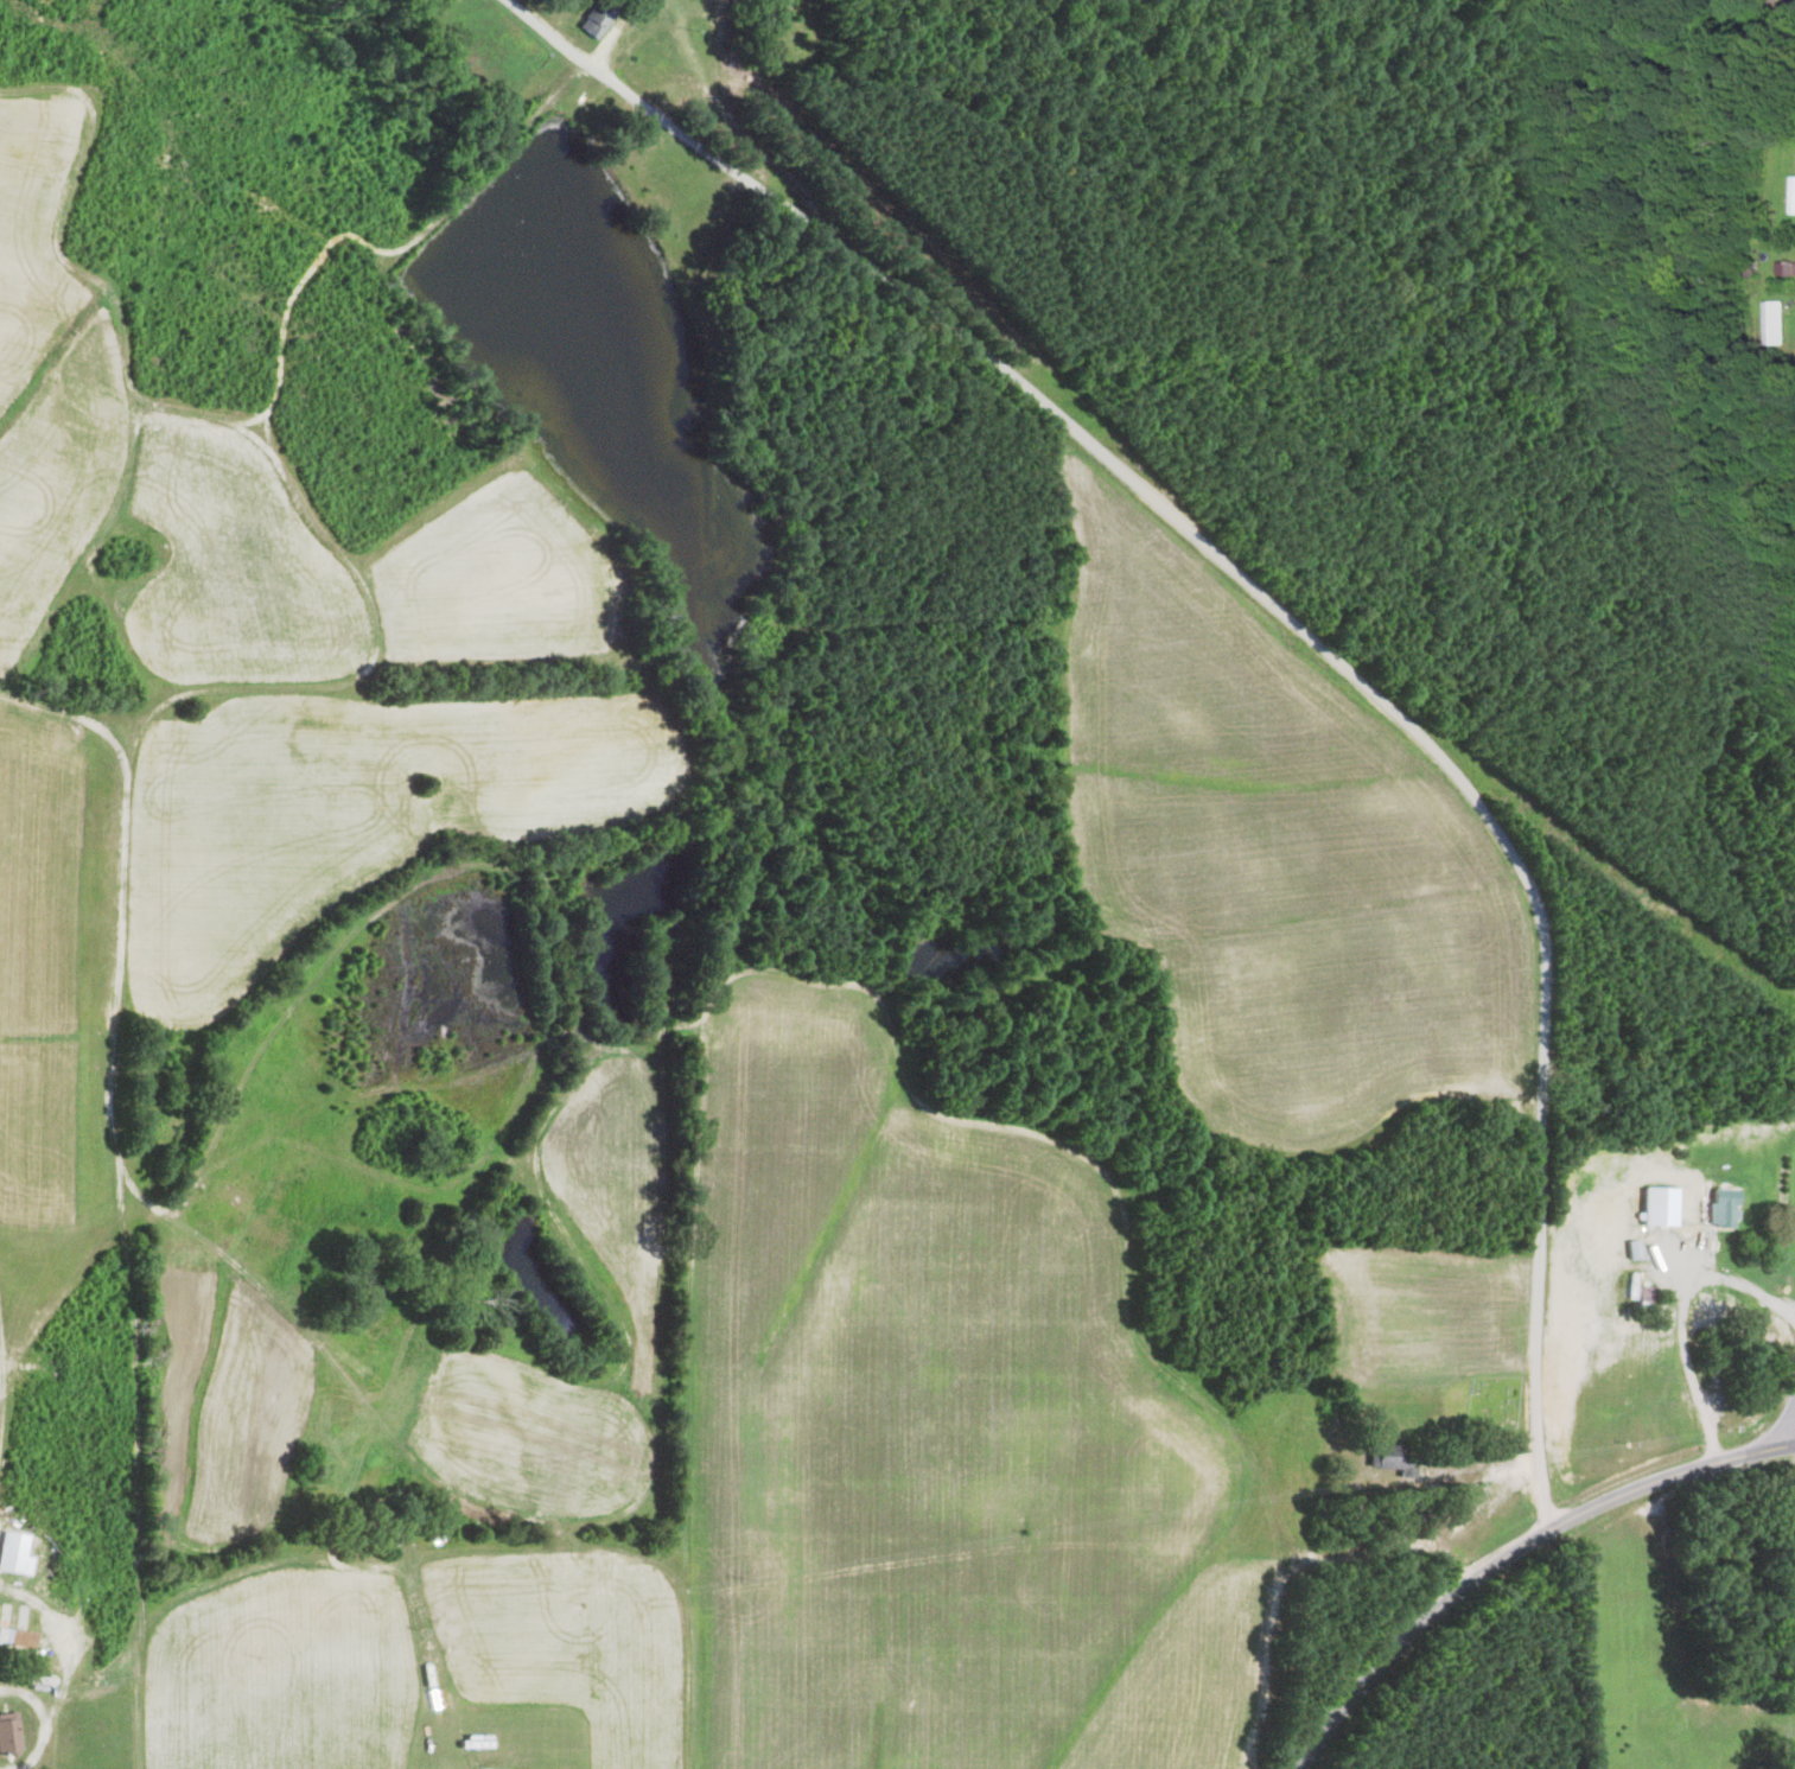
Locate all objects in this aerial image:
road: (1781, 2)
building: (590, 23)
building: (1786, 268)
road: (1294, 621)
building: (1719, 1207)
road: (1683, 1319)
building: (1389, 1458)
road: (1670, 1476)
road: (1436, 1529)
building: (13, 1564)
road: (1417, 1633)
building: (14, 1637)
building: (7, 1732)

